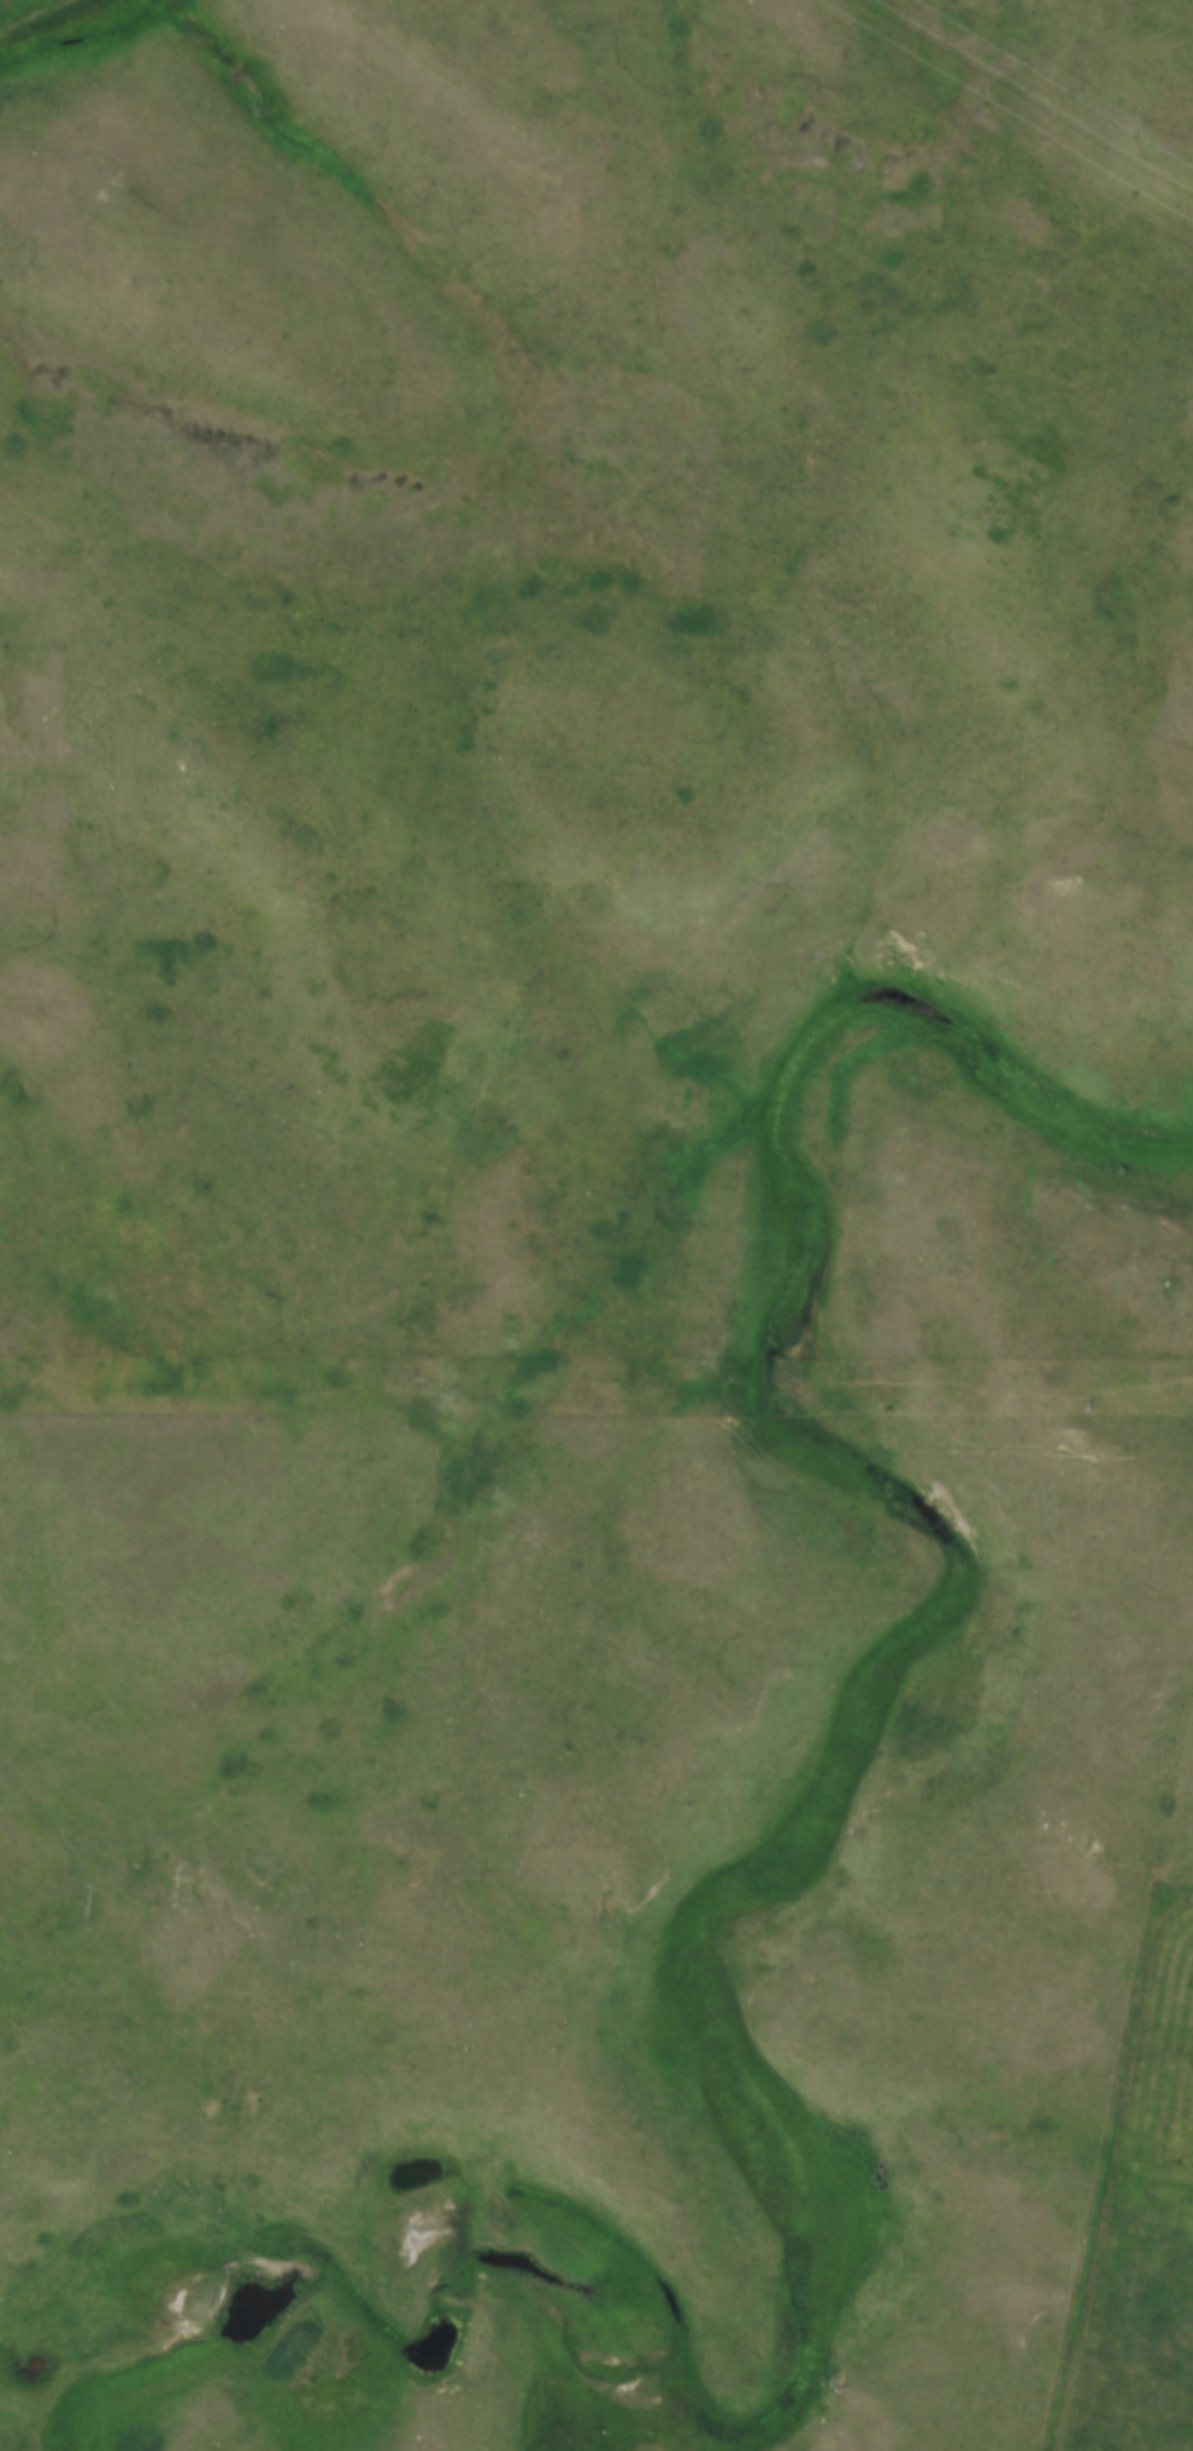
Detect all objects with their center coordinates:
road: (1113, 2165)

